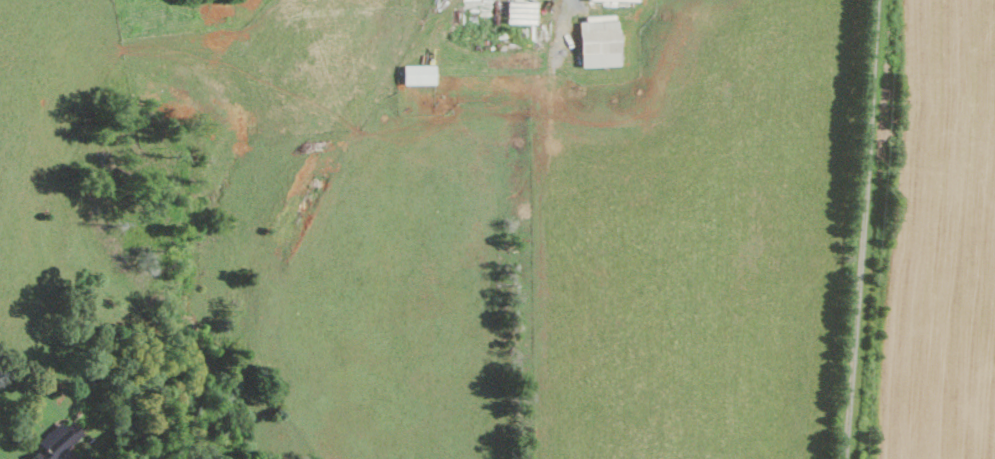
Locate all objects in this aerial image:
building: (620, 0)
building: (523, 13)
building: (602, 43)
road: (861, 229)

